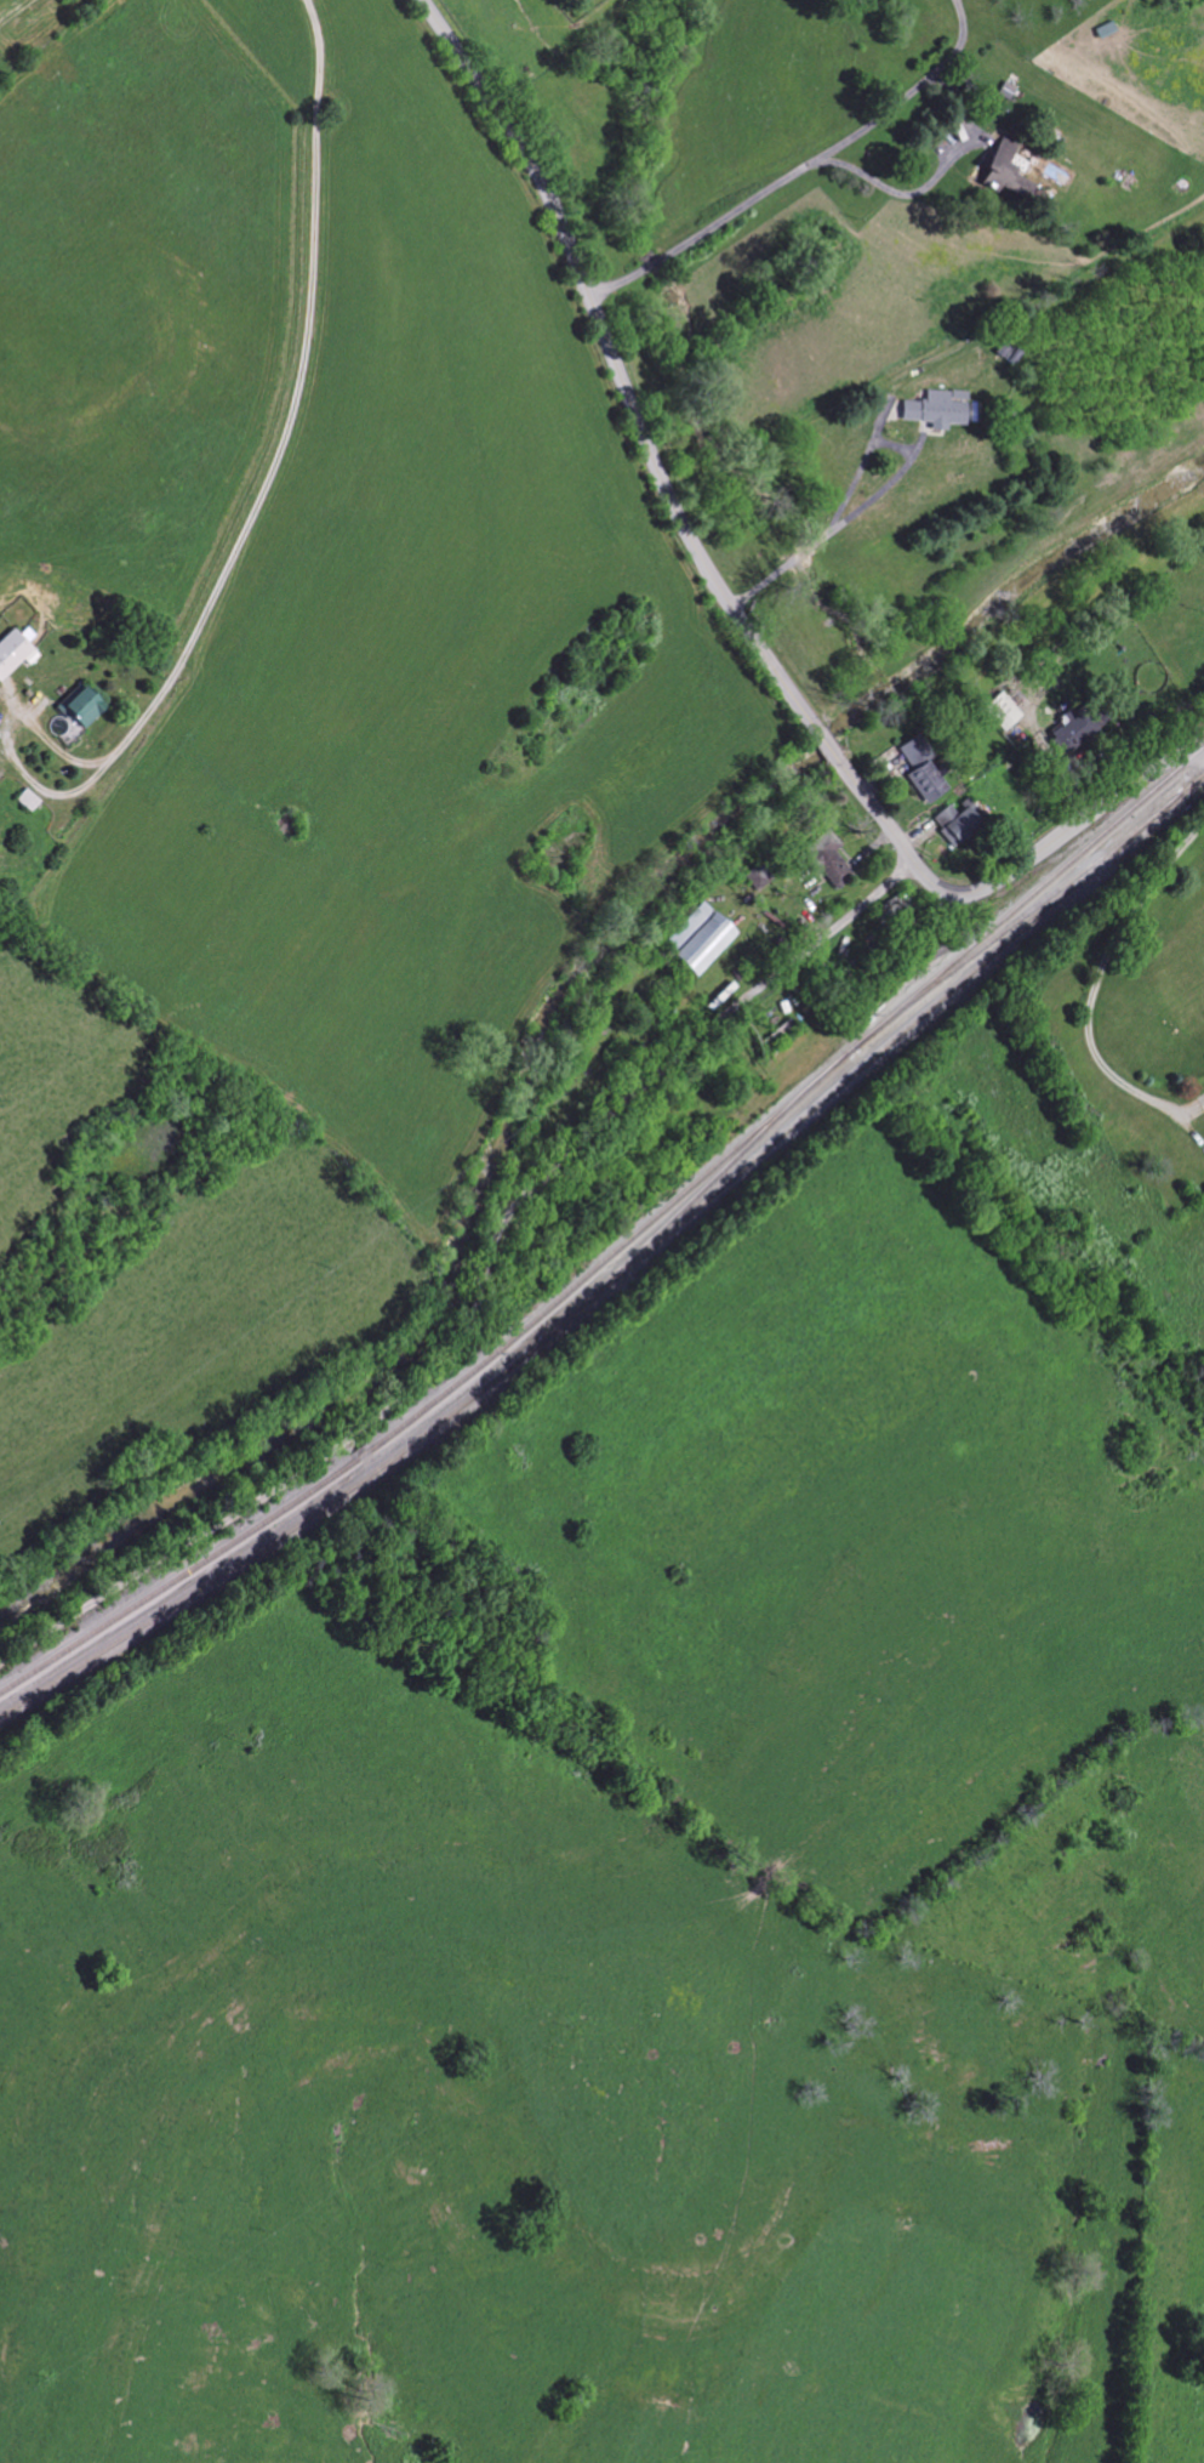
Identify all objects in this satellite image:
road: (801, 169)
building: (1008, 174)
road: (902, 198)
building: (938, 409)
road: (275, 455)
road: (877, 490)
road: (724, 593)
building: (16, 652)
building: (82, 706)
building: (1077, 730)
building: (924, 769)
building: (959, 825)
building: (829, 859)
building: (689, 927)
building: (706, 945)
road: (1088, 996)
railway: (621, 1245)
railway: (621, 1269)
road: (483, 1295)

